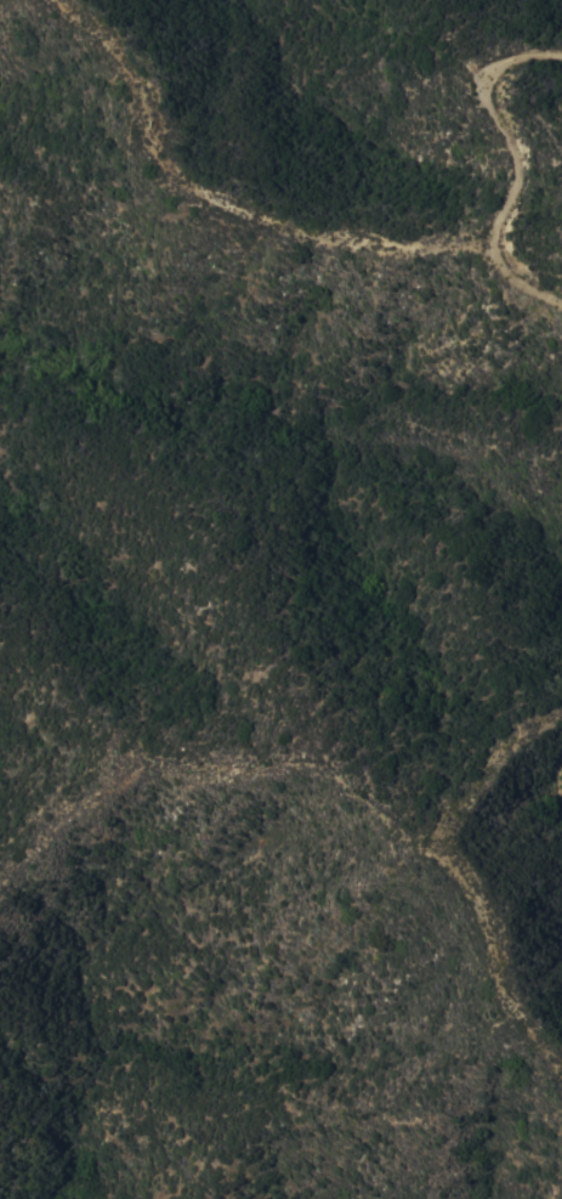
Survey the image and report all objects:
road: (511, 165)
road: (234, 203)

